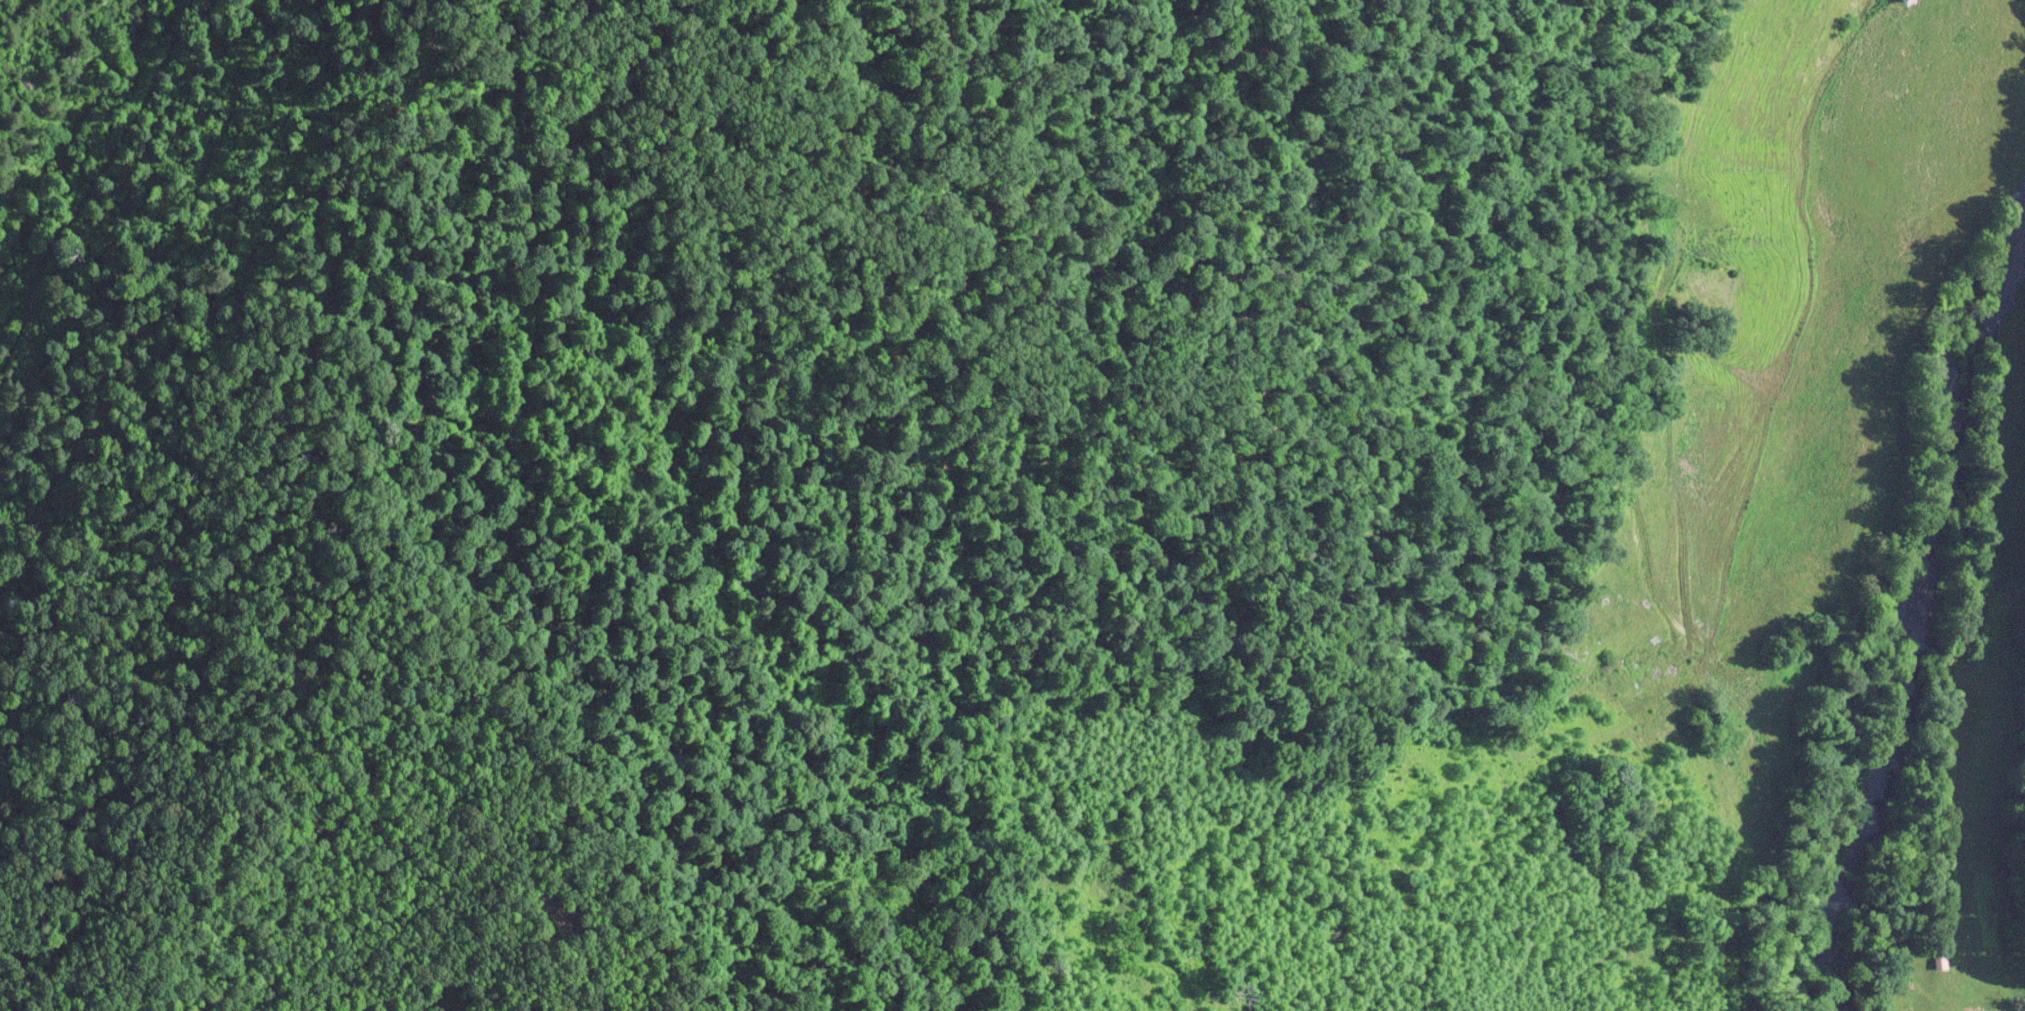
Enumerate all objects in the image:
building: (1904, 1)
road: (2004, 993)

